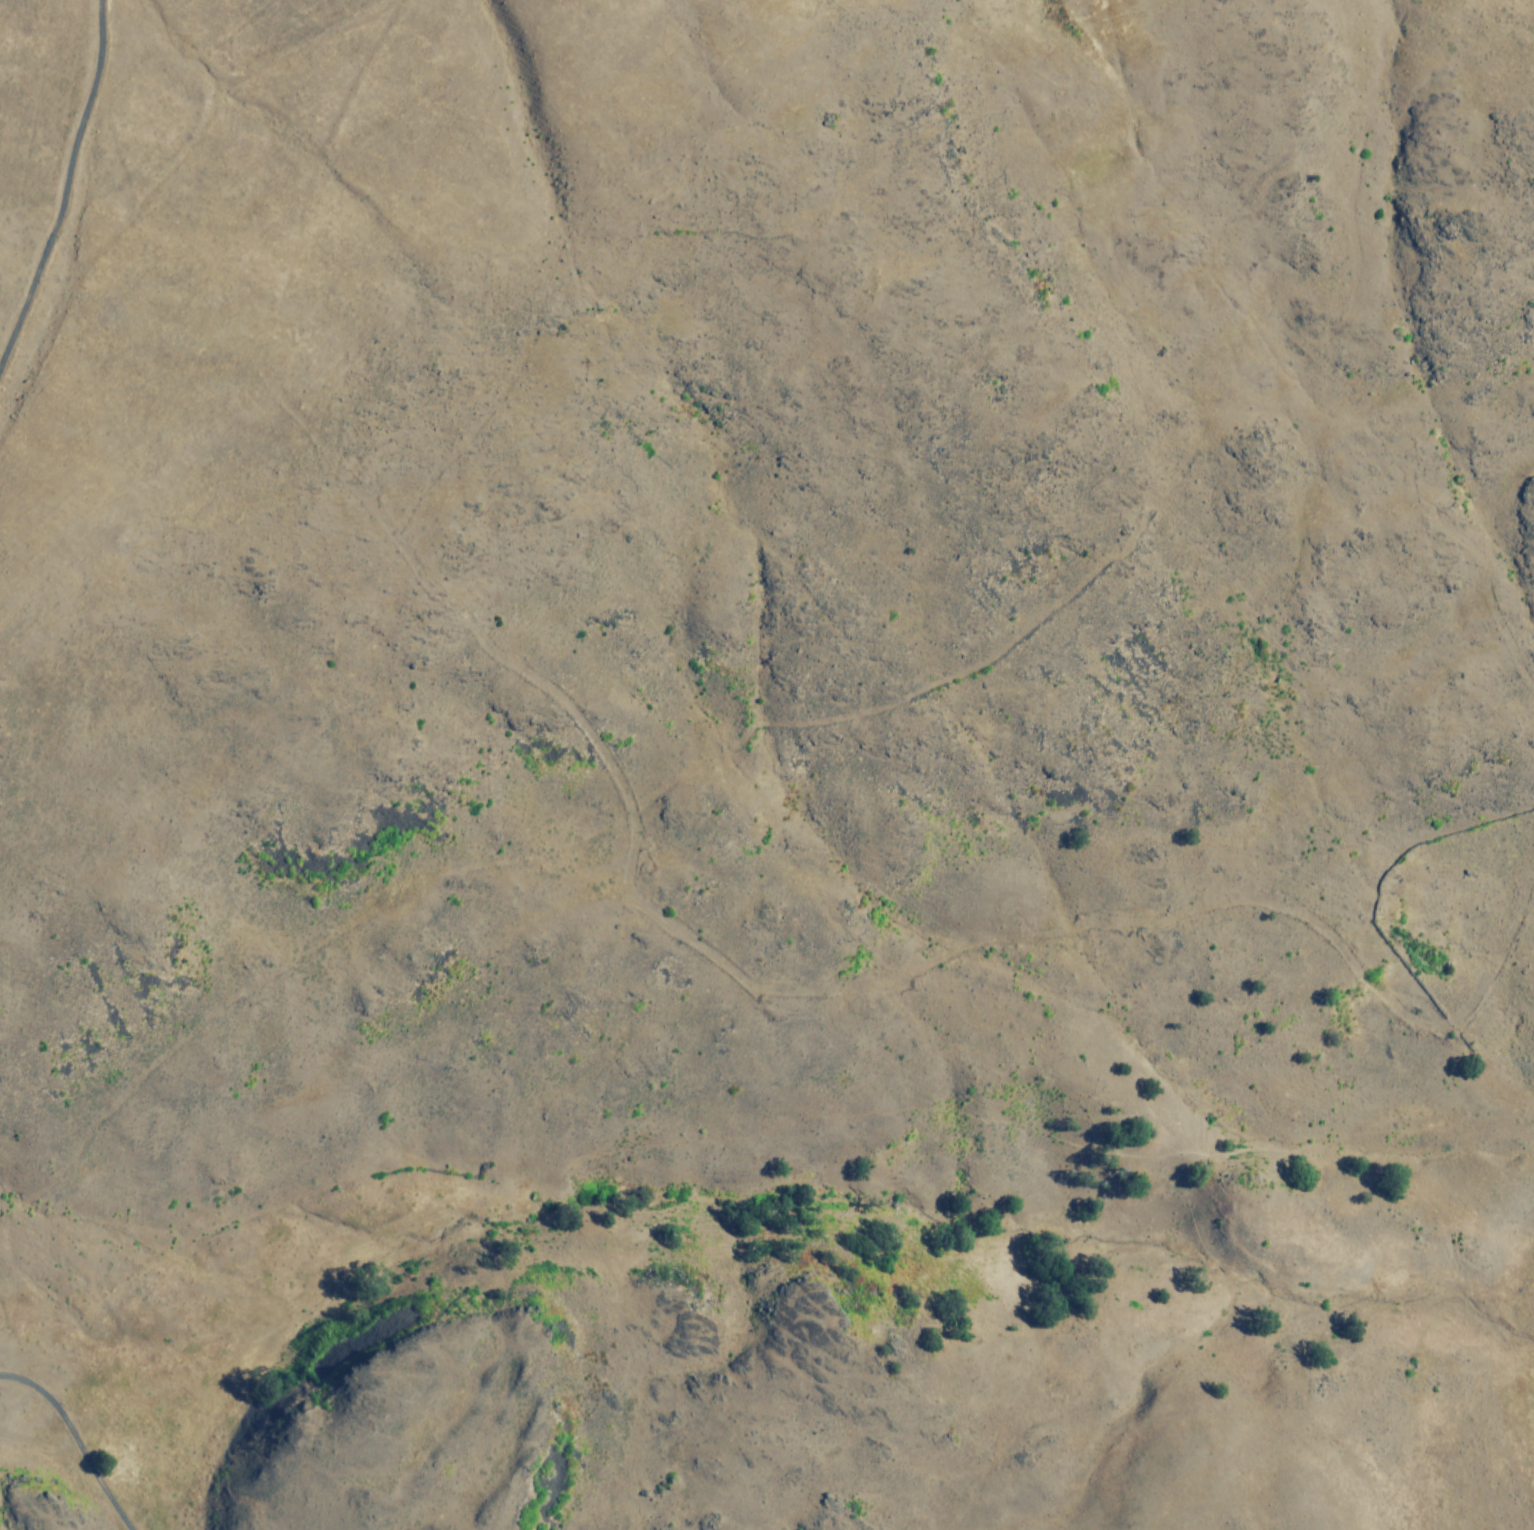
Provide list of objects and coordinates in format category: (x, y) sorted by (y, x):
road: (64, 182)
road: (74, 1441)

